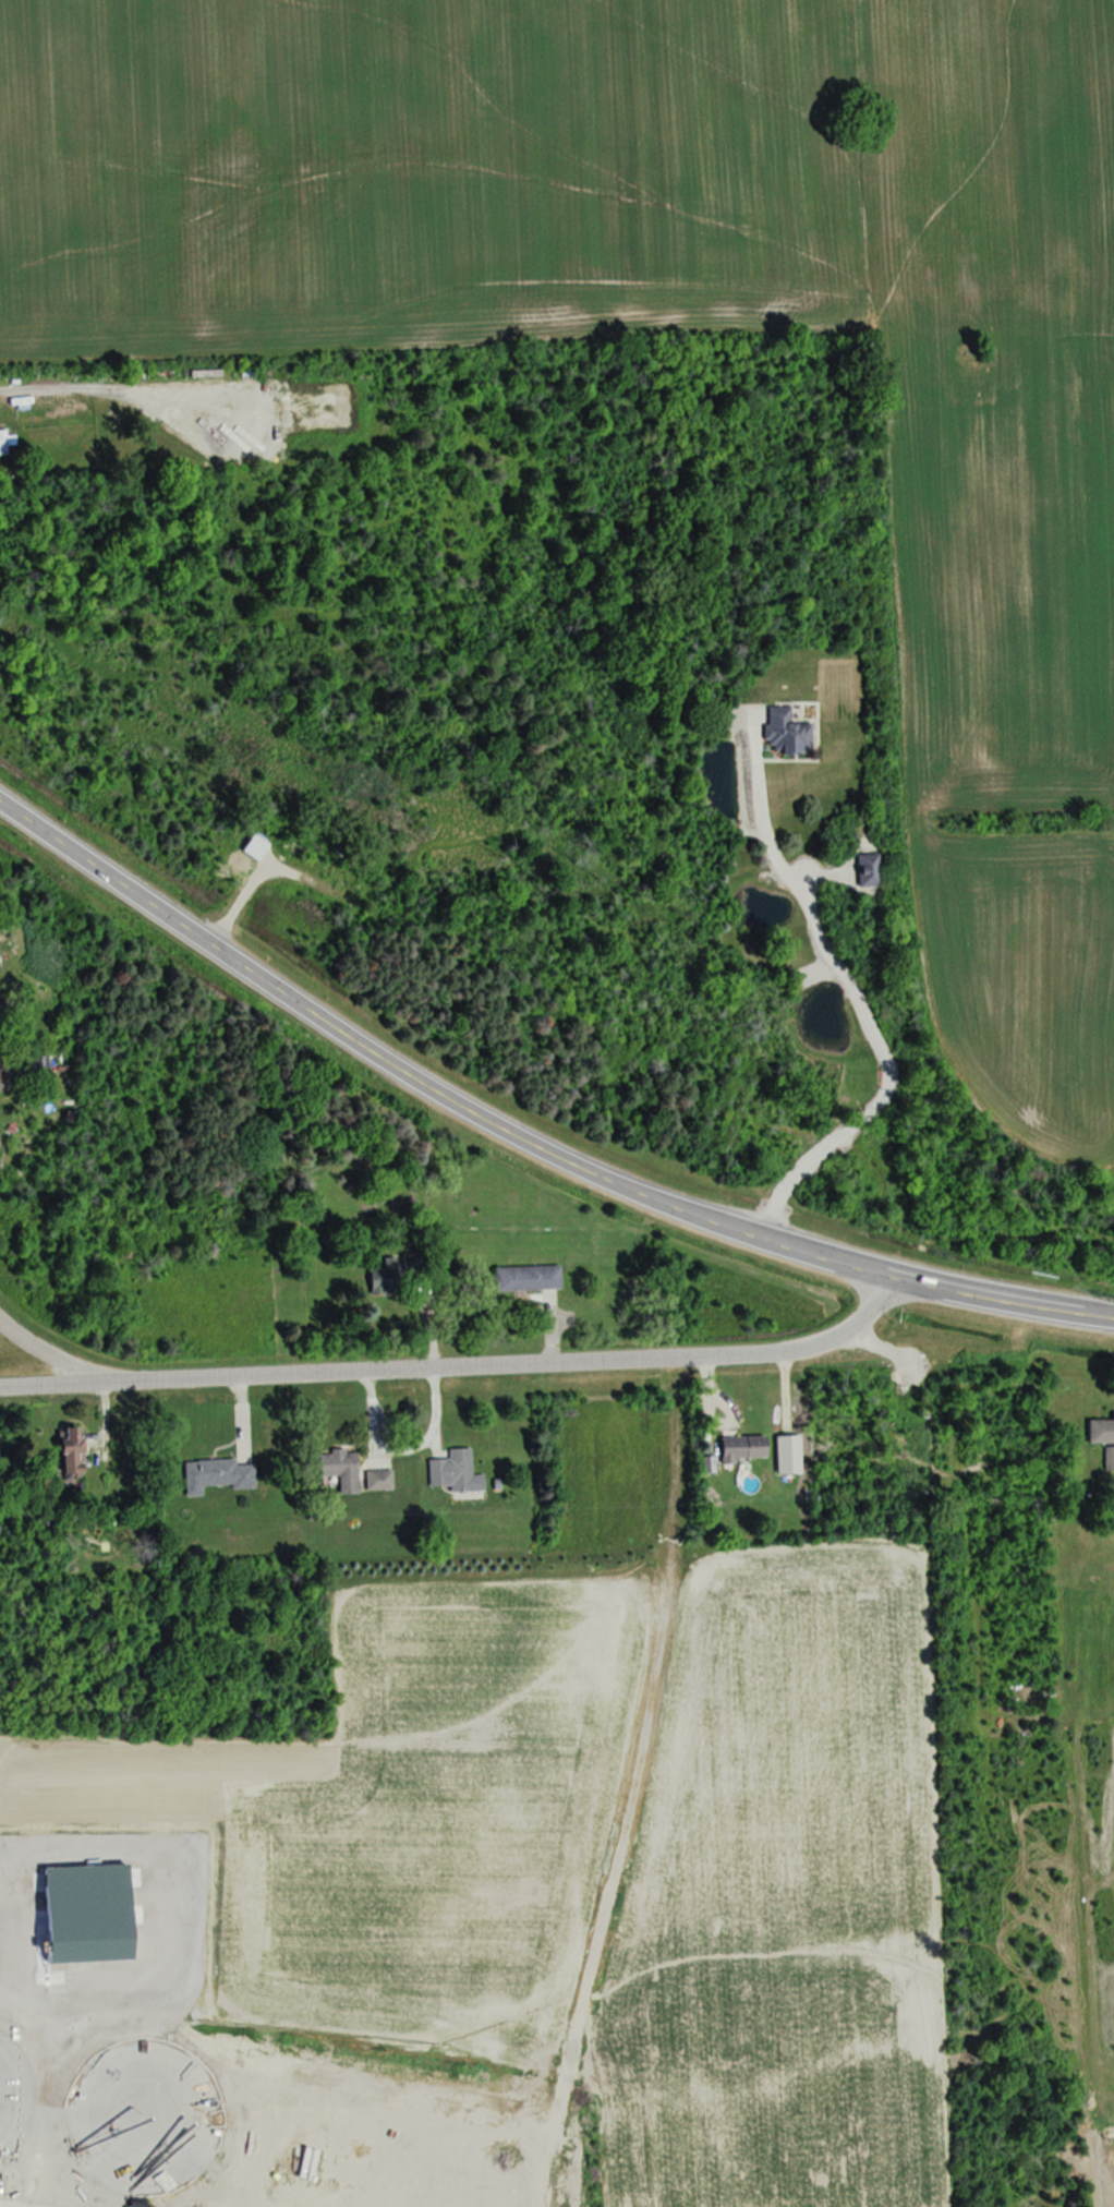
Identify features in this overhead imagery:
building: (785, 733)
building: (871, 872)
road: (861, 1010)
building: (24, 1066)
road: (426, 1088)
building: (526, 1278)
building: (380, 1279)
road: (1006, 1300)
road: (47, 1354)
road: (460, 1364)
building: (1101, 1431)
road: (396, 1445)
building: (740, 1449)
building: (70, 1451)
building: (339, 1469)
building: (453, 1472)
building: (215, 1475)
building: (377, 1480)

